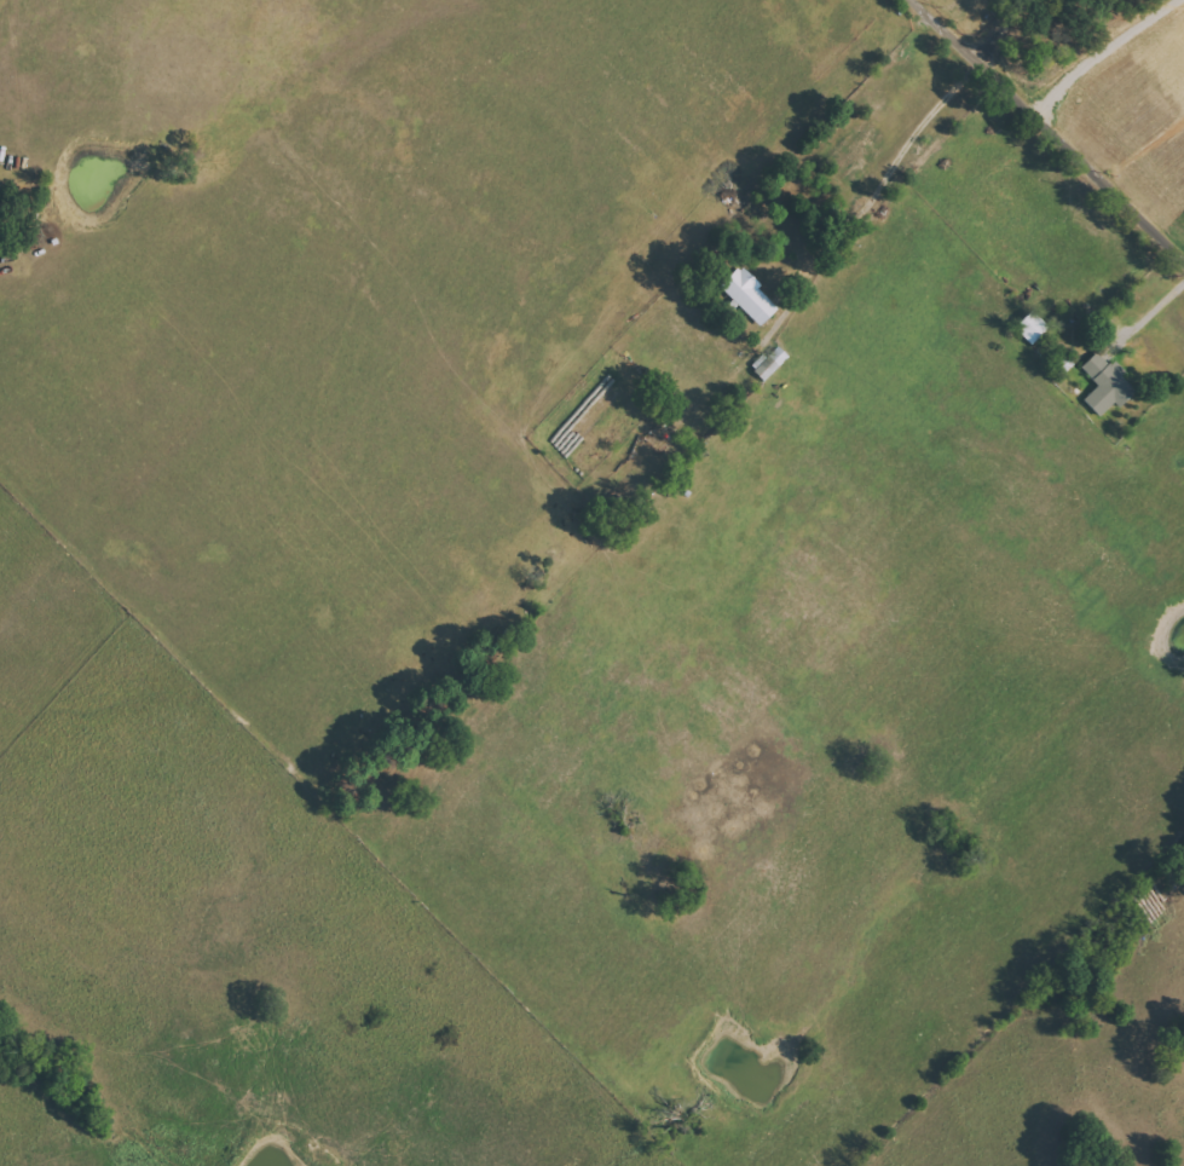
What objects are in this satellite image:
road: (1003, 25)
road: (1053, 125)
road: (836, 204)
building: (750, 296)
road: (1150, 308)
building: (1108, 385)

